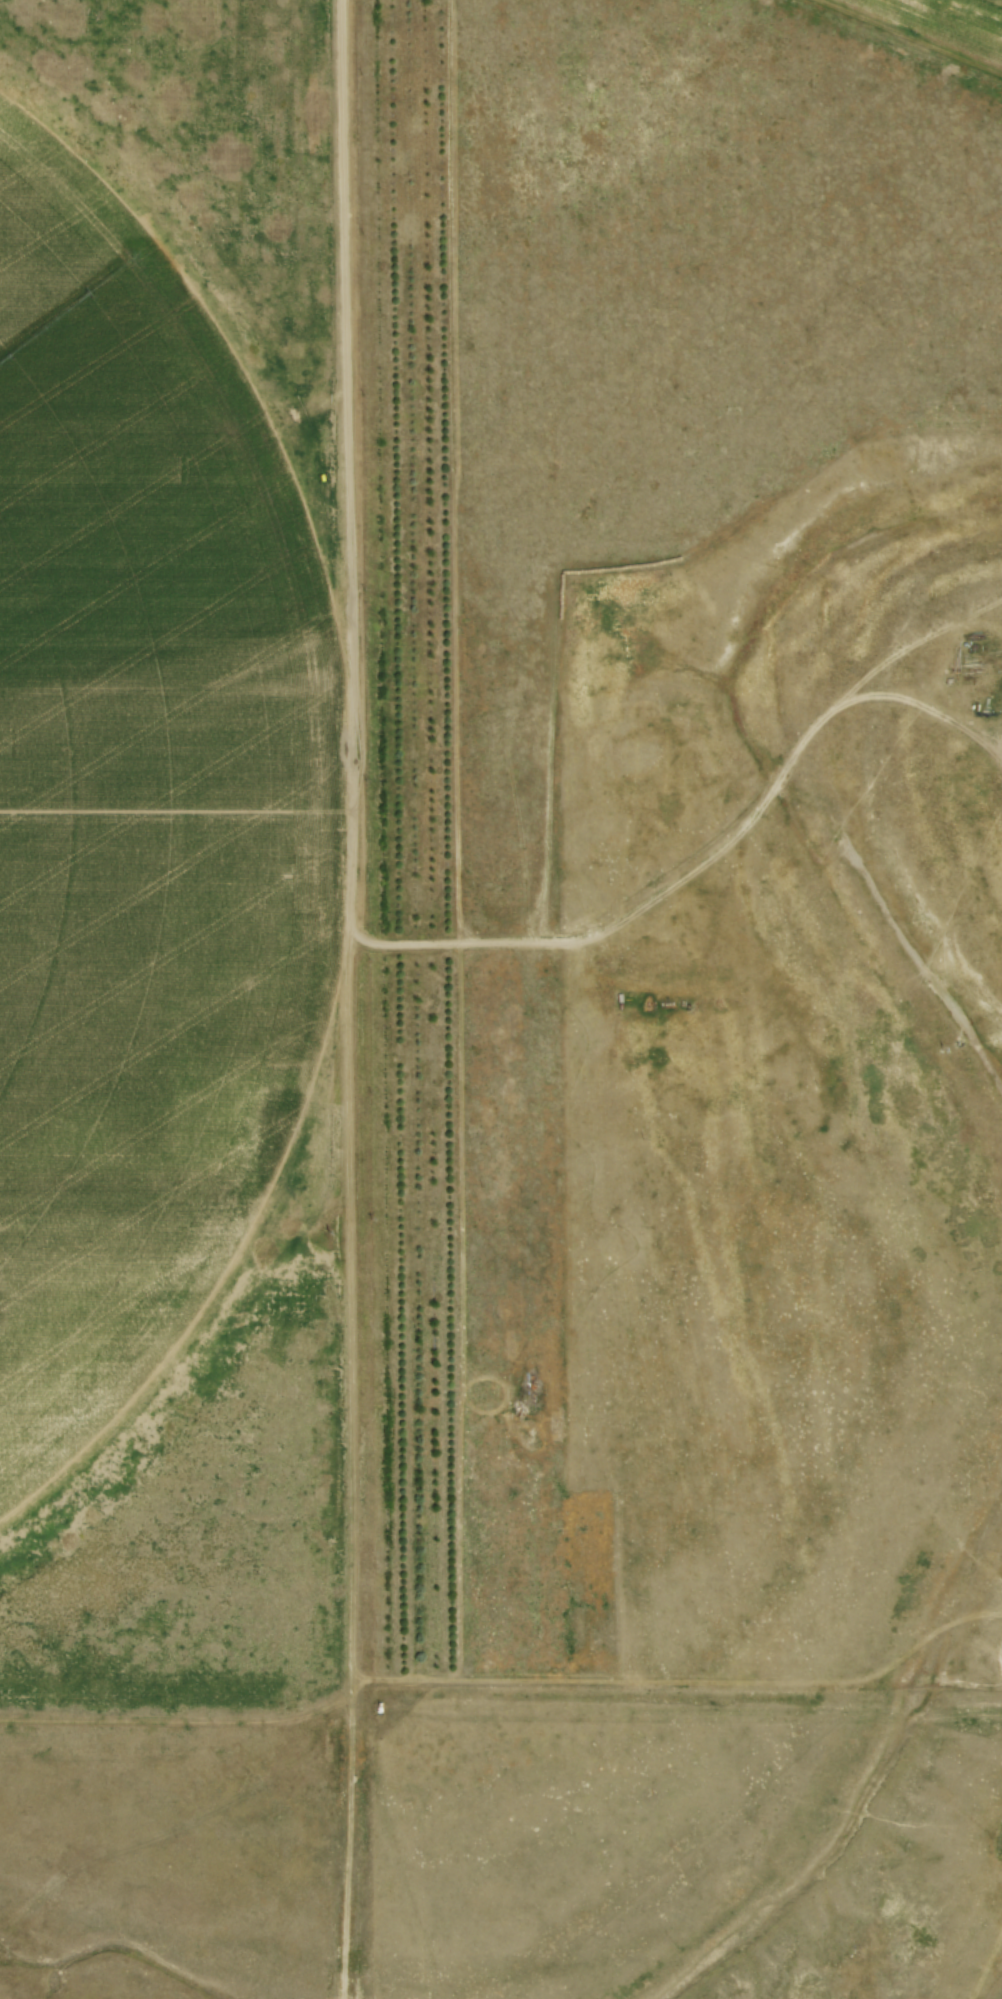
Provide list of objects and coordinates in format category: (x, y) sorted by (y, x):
crop: (966, 13)
crop: (140, 804)
road: (350, 999)

